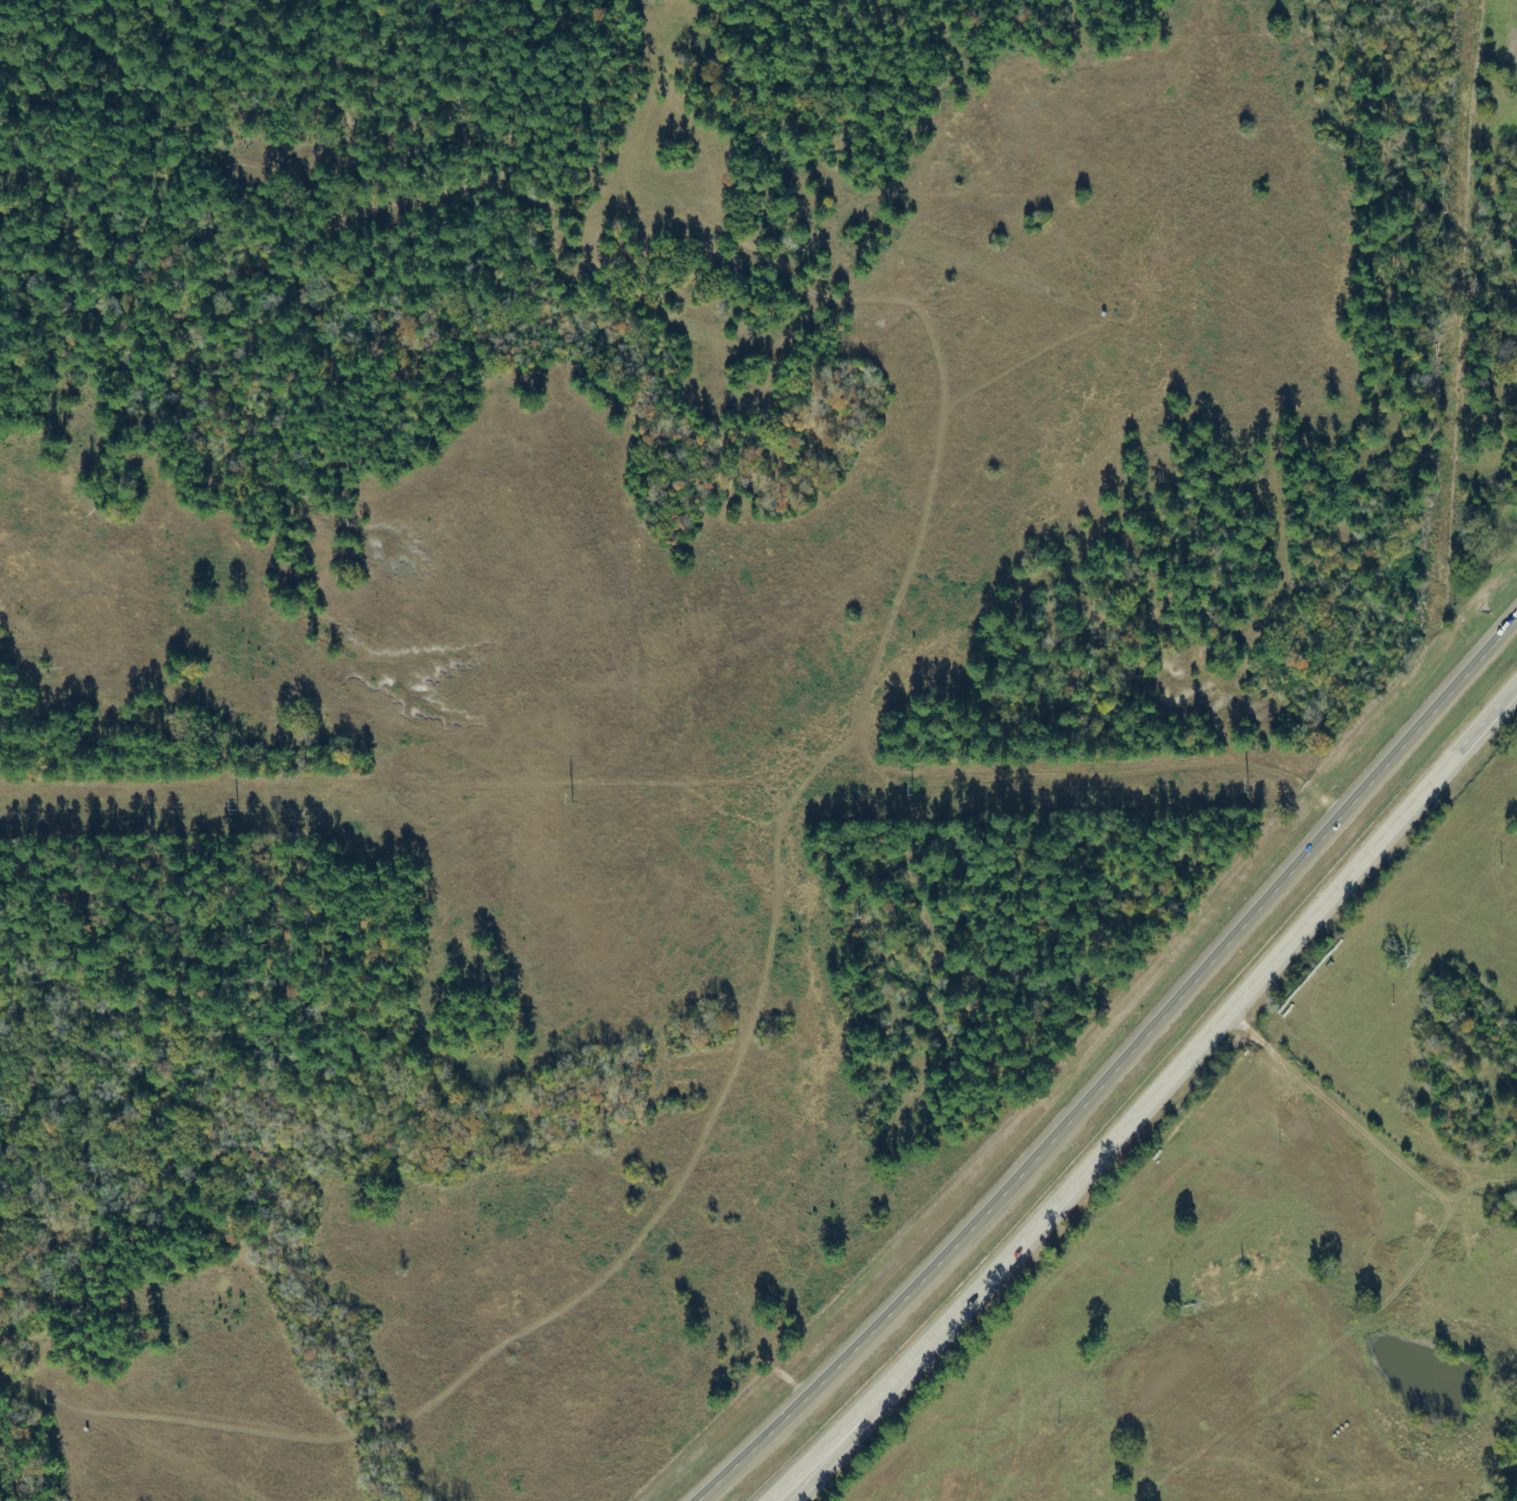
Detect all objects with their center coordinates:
road: (924, 320)
power tower: (1246, 782)
power tower: (909, 789)
power tower: (569, 798)
power tower: (236, 802)
road: (1214, 1020)
road: (1114, 1065)
road: (840, 1427)
road: (850, 1427)

